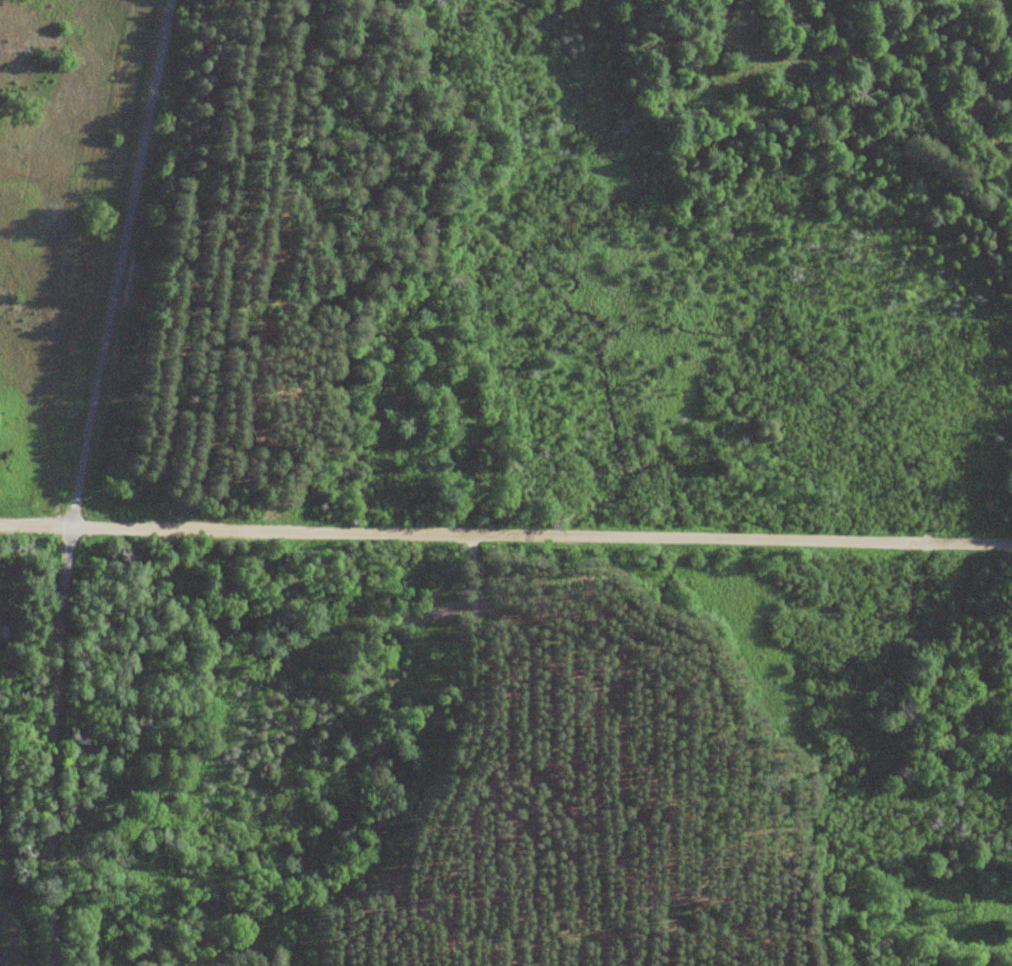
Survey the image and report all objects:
road: (82, 479)
road: (505, 535)
road: (479, 734)
building: (879, 940)
road: (563, 944)
road: (441, 947)

